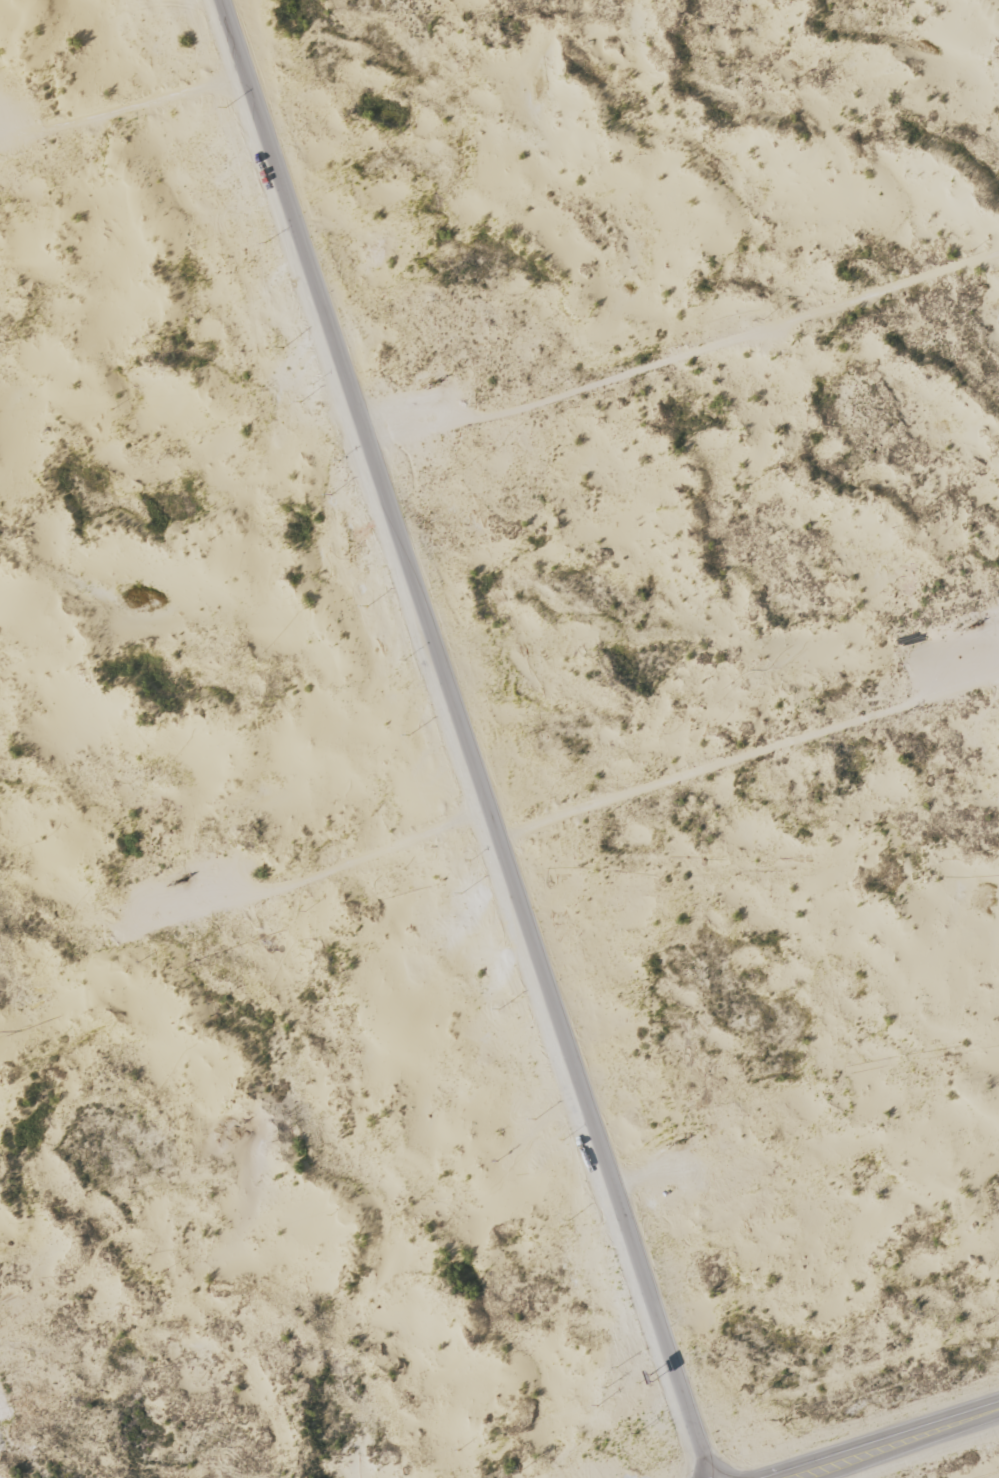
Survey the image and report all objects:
road: (456, 742)
road: (885, 1441)

